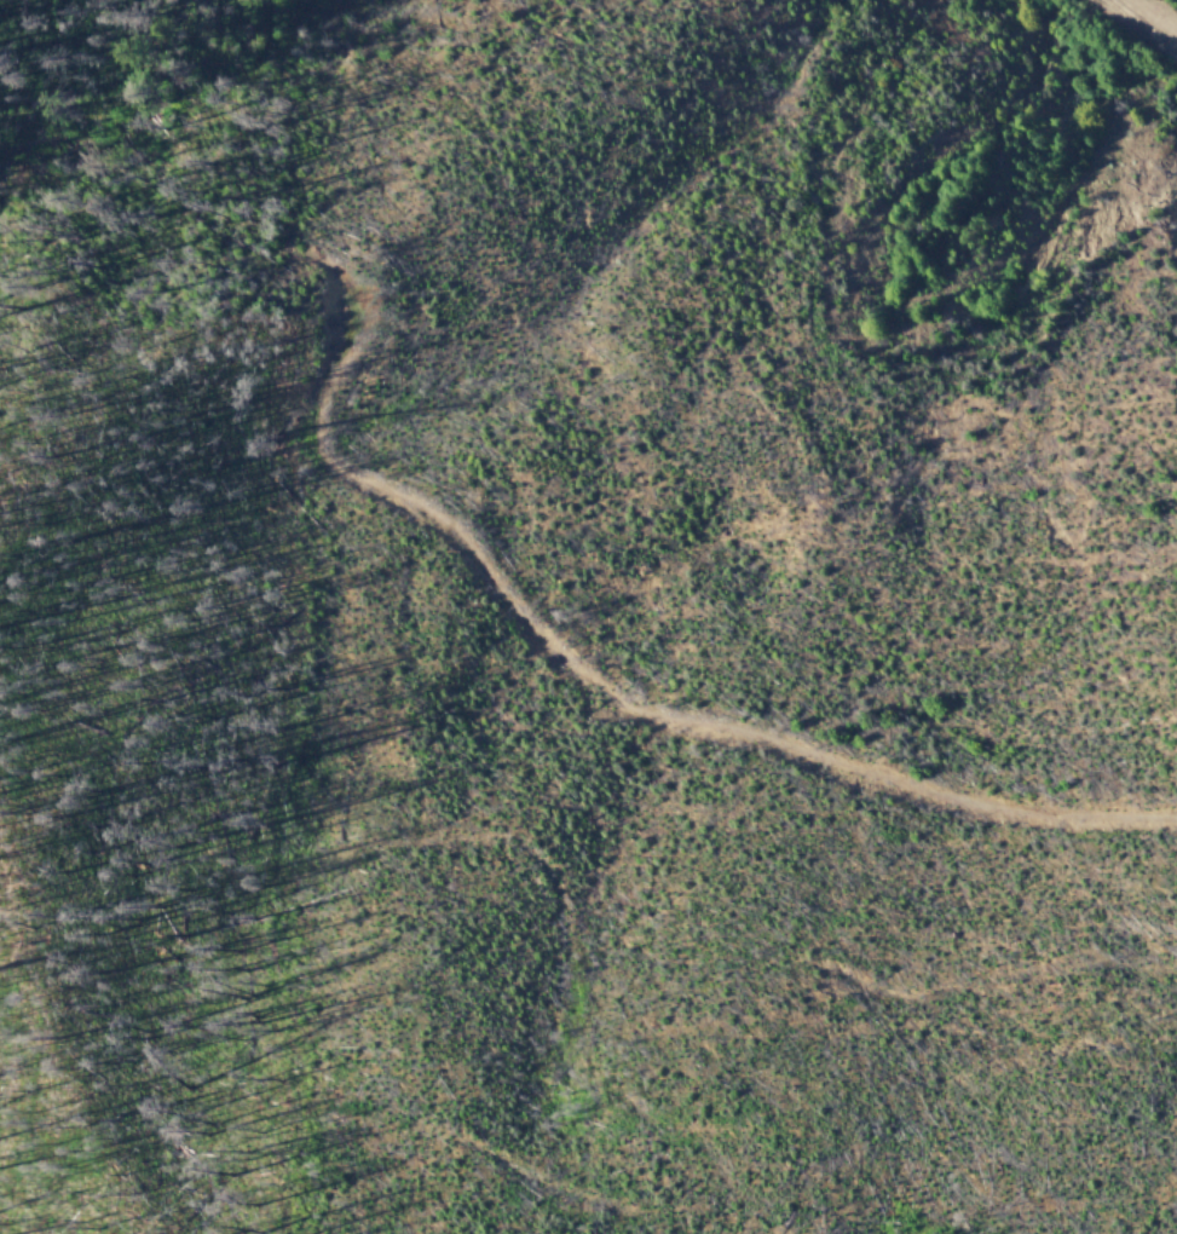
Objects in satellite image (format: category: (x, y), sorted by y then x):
railway: (1140, 25)
road: (639, 690)

